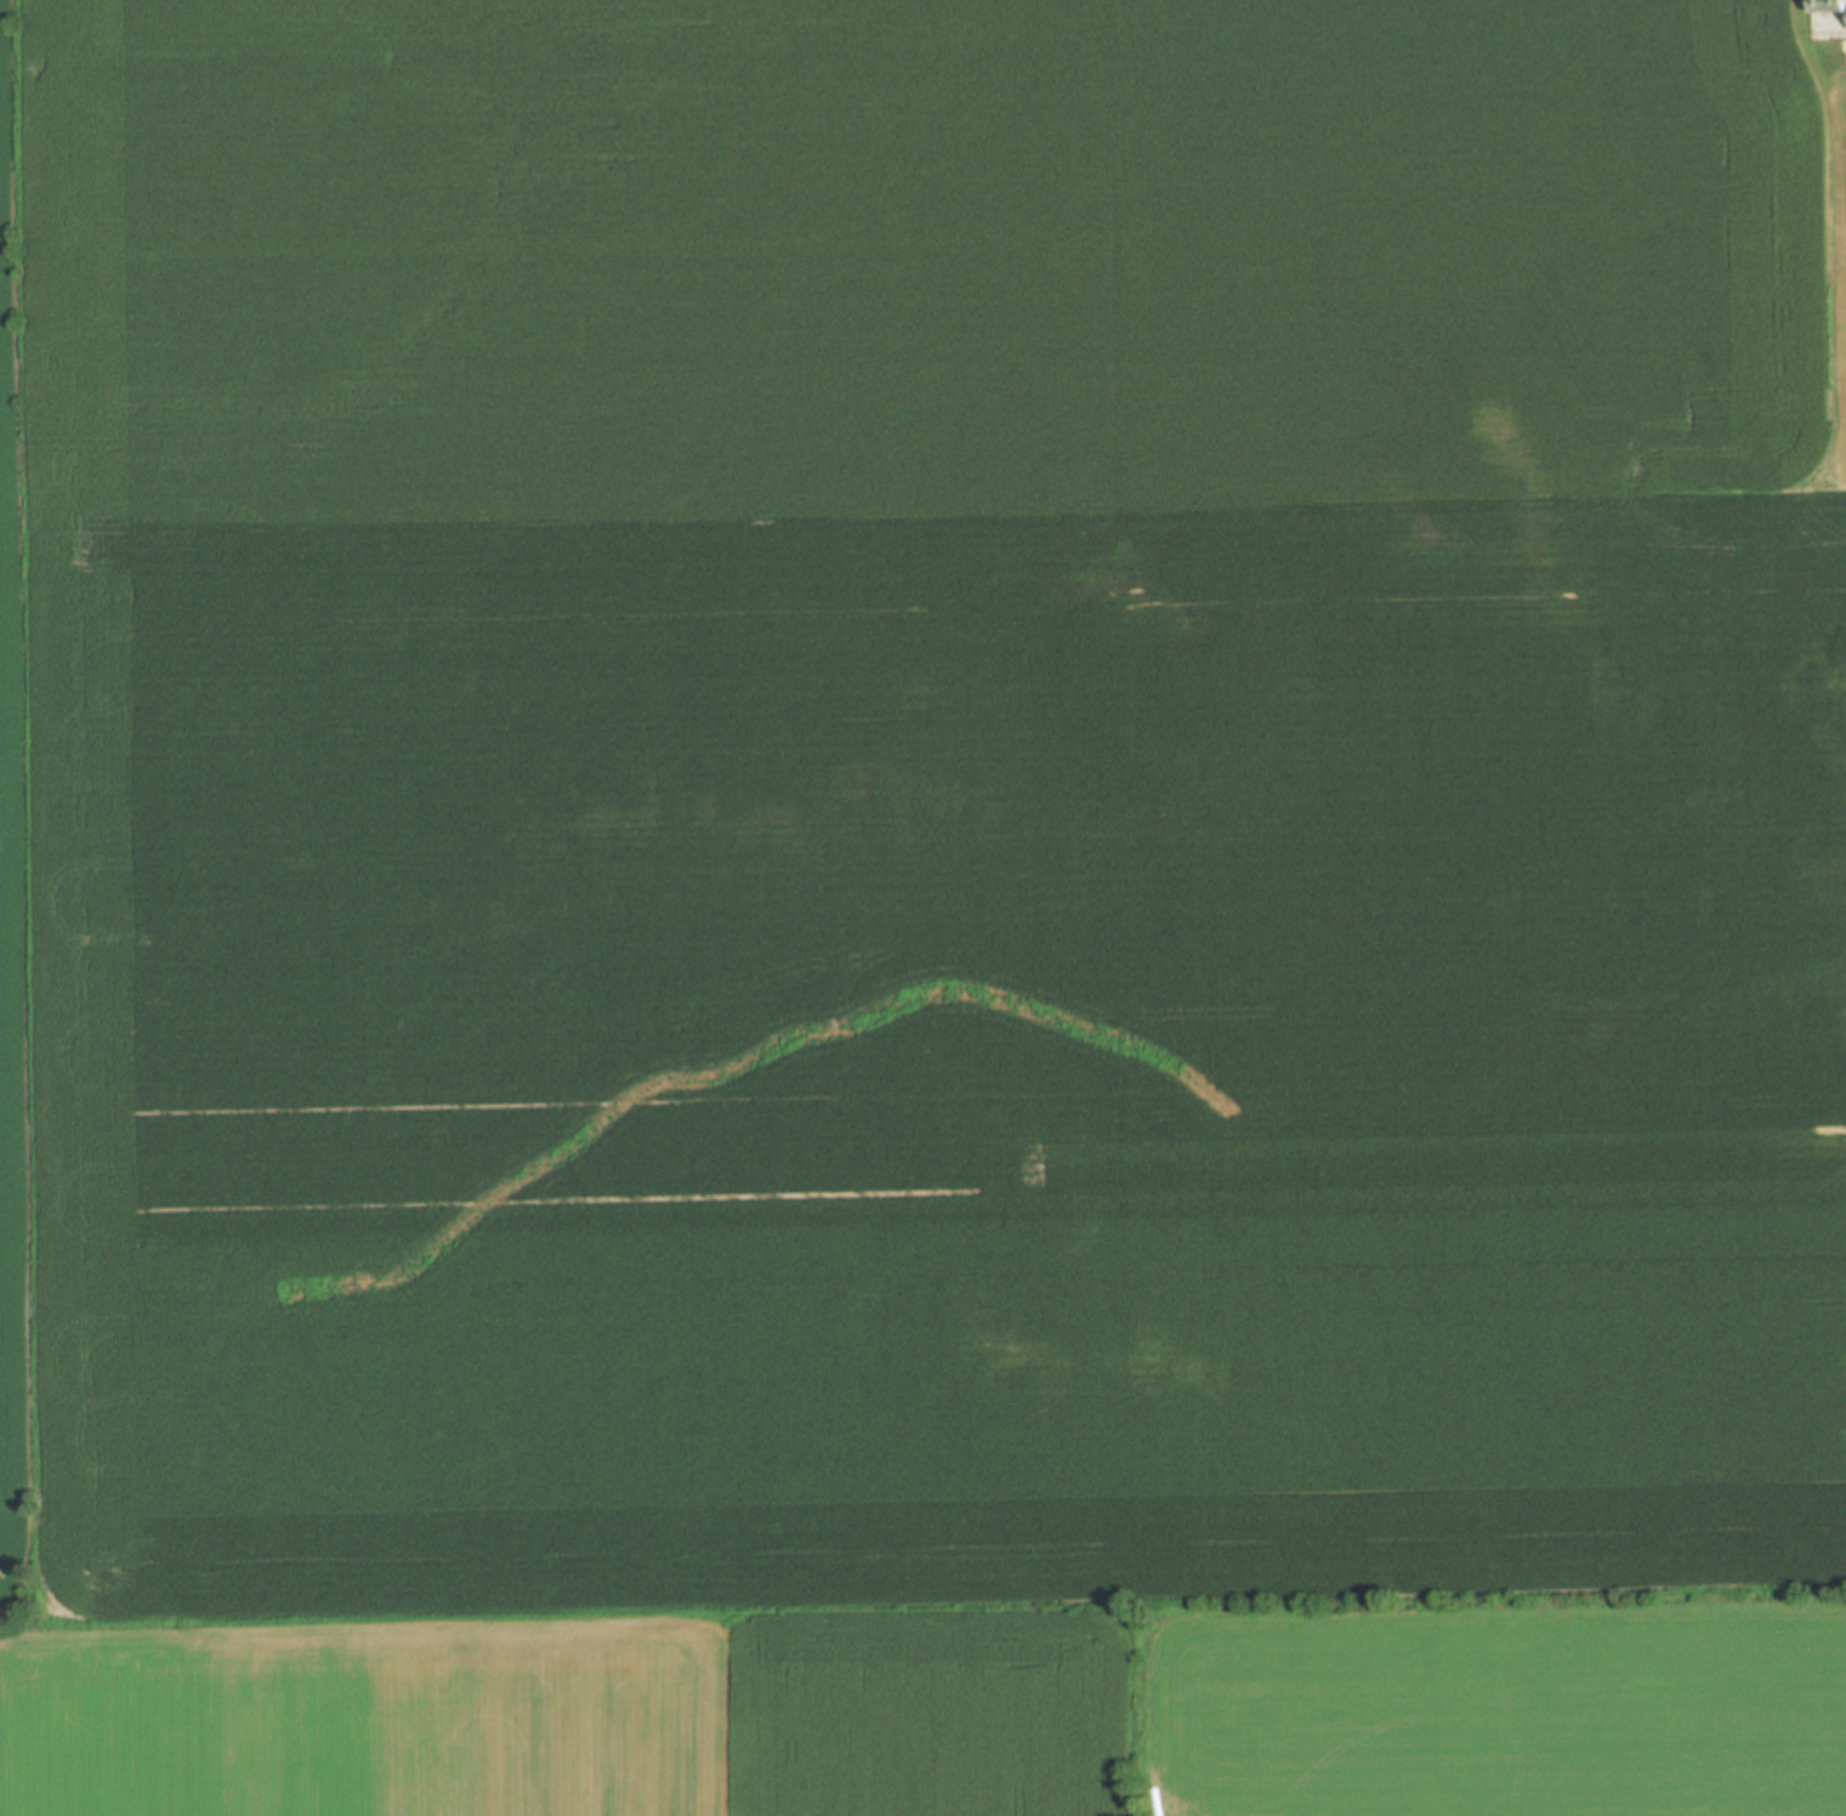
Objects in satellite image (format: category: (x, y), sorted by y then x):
building: (1824, 6)

